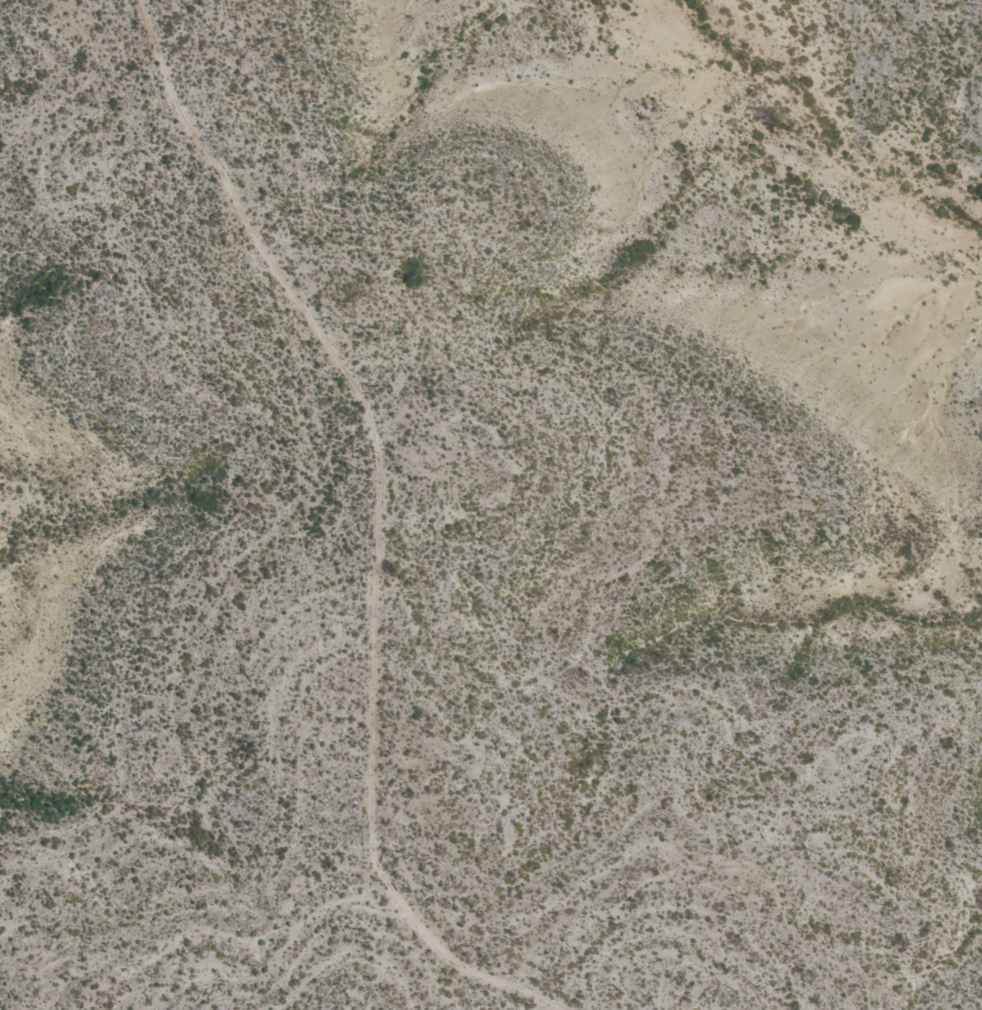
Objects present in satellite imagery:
road: (376, 529)
road: (554, 1007)

